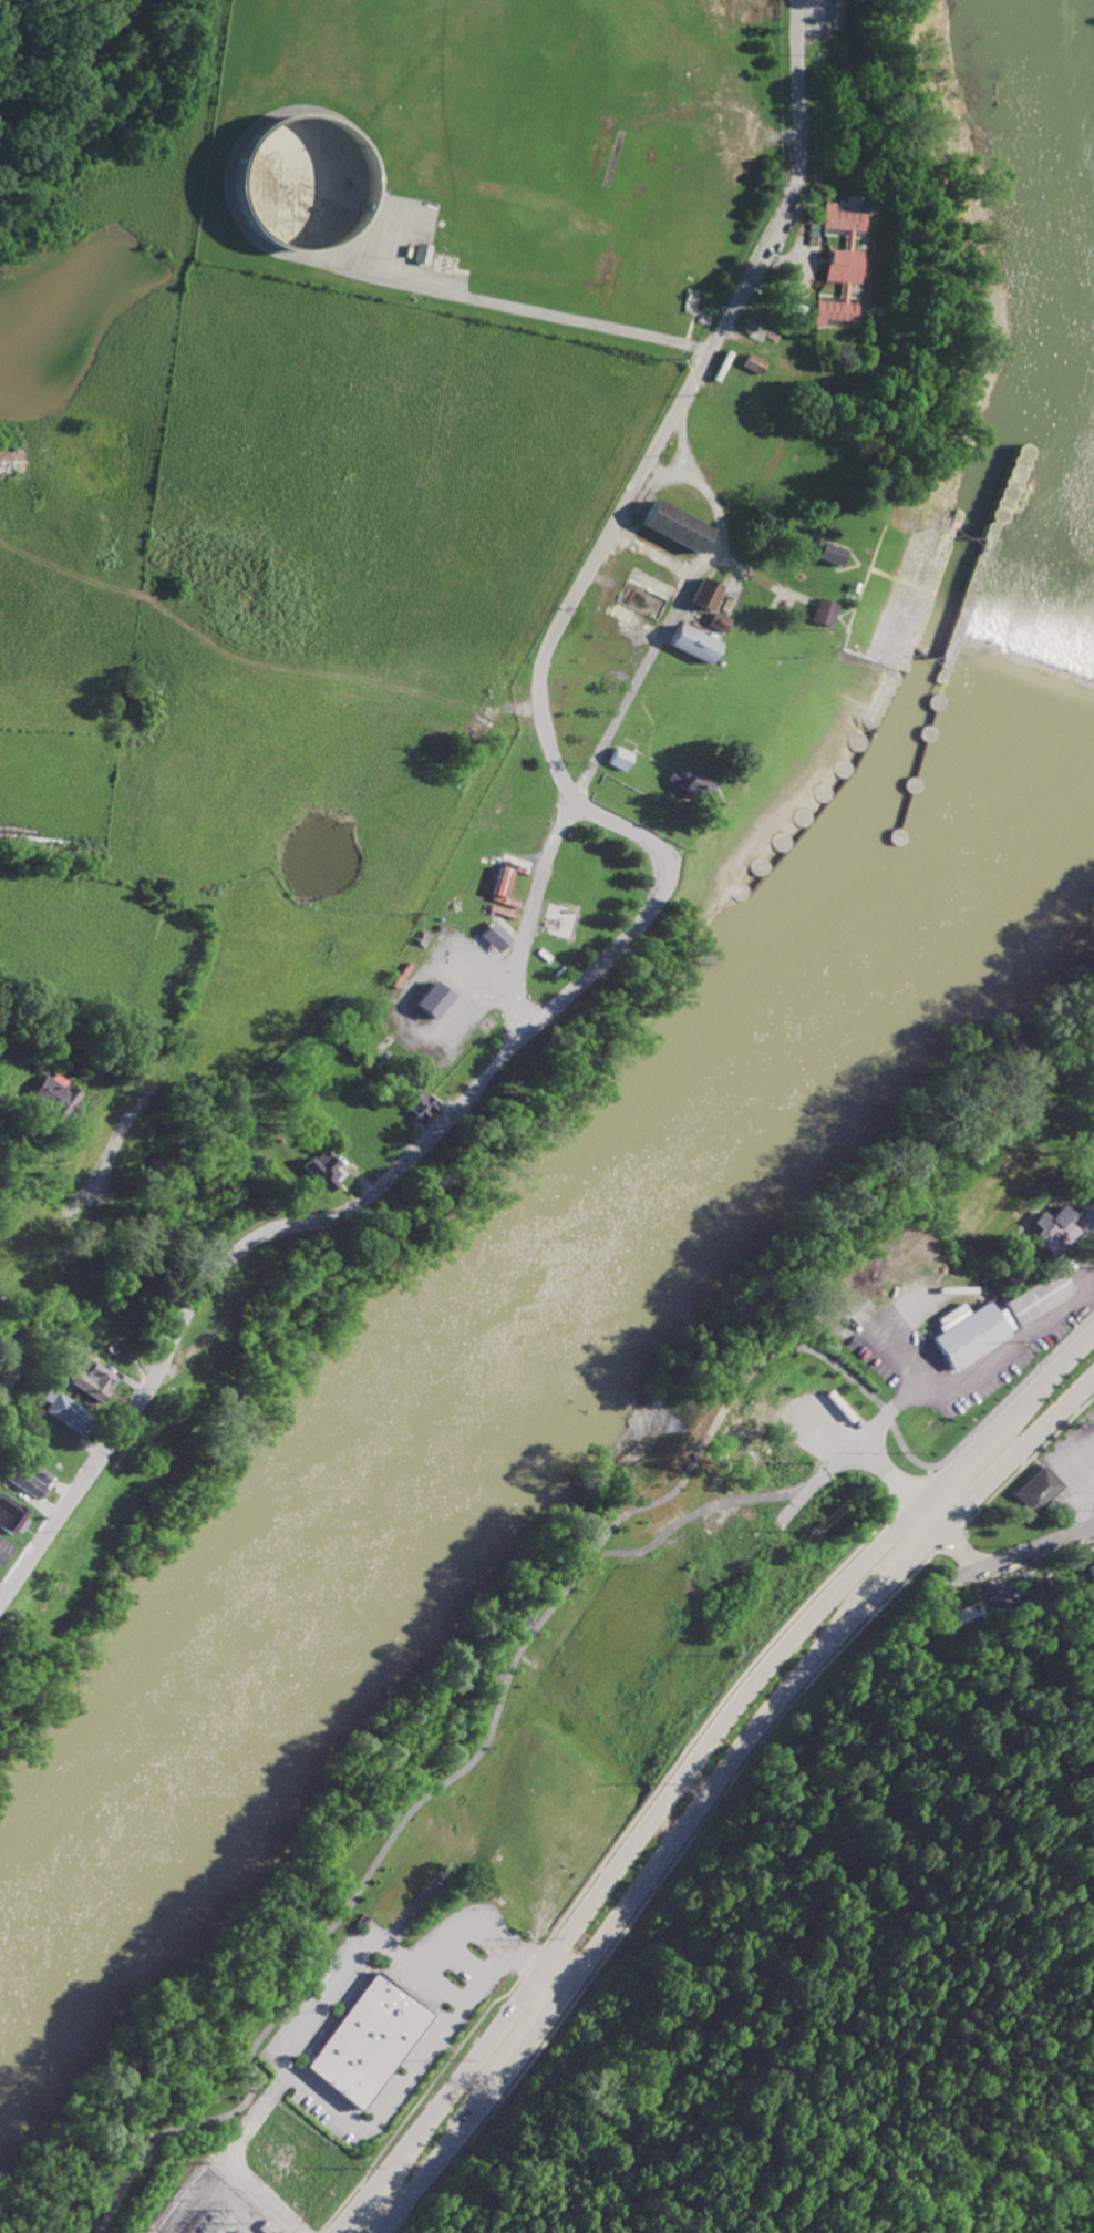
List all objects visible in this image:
storage tank: (301, 182)
building: (834, 264)
river: (1034, 274)
road: (578, 318)
building: (750, 362)
building: (719, 363)
road: (680, 444)
building: (672, 525)
building: (826, 553)
road: (651, 554)
building: (850, 586)
building: (702, 593)
river: (947, 597)
road: (671, 610)
building: (820, 611)
building: (715, 621)
building: (689, 642)
building: (617, 758)
building: (689, 783)
road: (663, 882)
building: (500, 884)
road: (526, 914)
building: (494, 936)
building: (431, 999)
building: (41, 1058)
building: (55, 1095)
building: (414, 1101)
building: (1085, 1159)
building: (321, 1170)
building: (1050, 1228)
building: (1034, 1297)
building: (948, 1318)
building: (966, 1338)
park: (20, 1348)
parking lot: (889, 1355)
road: (17, 1366)
building: (92, 1379)
river: (529, 1390)
building: (66, 1411)
road: (881, 1418)
road: (874, 1467)
building: (34, 1471)
road: (1076, 1481)
building: (27, 1484)
building: (1034, 1489)
building: (11, 1515)
building: (3, 1548)
road: (998, 1563)
building: (1091, 1566)
road: (3, 1581)
building: (1000, 1602)
road: (539, 1616)
building: (959, 1618)
road: (692, 1762)
park: (495, 1772)
road: (714, 1786)
road: (723, 1792)
road: (613, 1843)
road: (454, 1925)
road: (347, 1958)
park: (844, 1963)
building: (364, 2040)
road: (820, 2118)
road: (1030, 2121)
road: (363, 2129)
power substation: (205, 2210)

